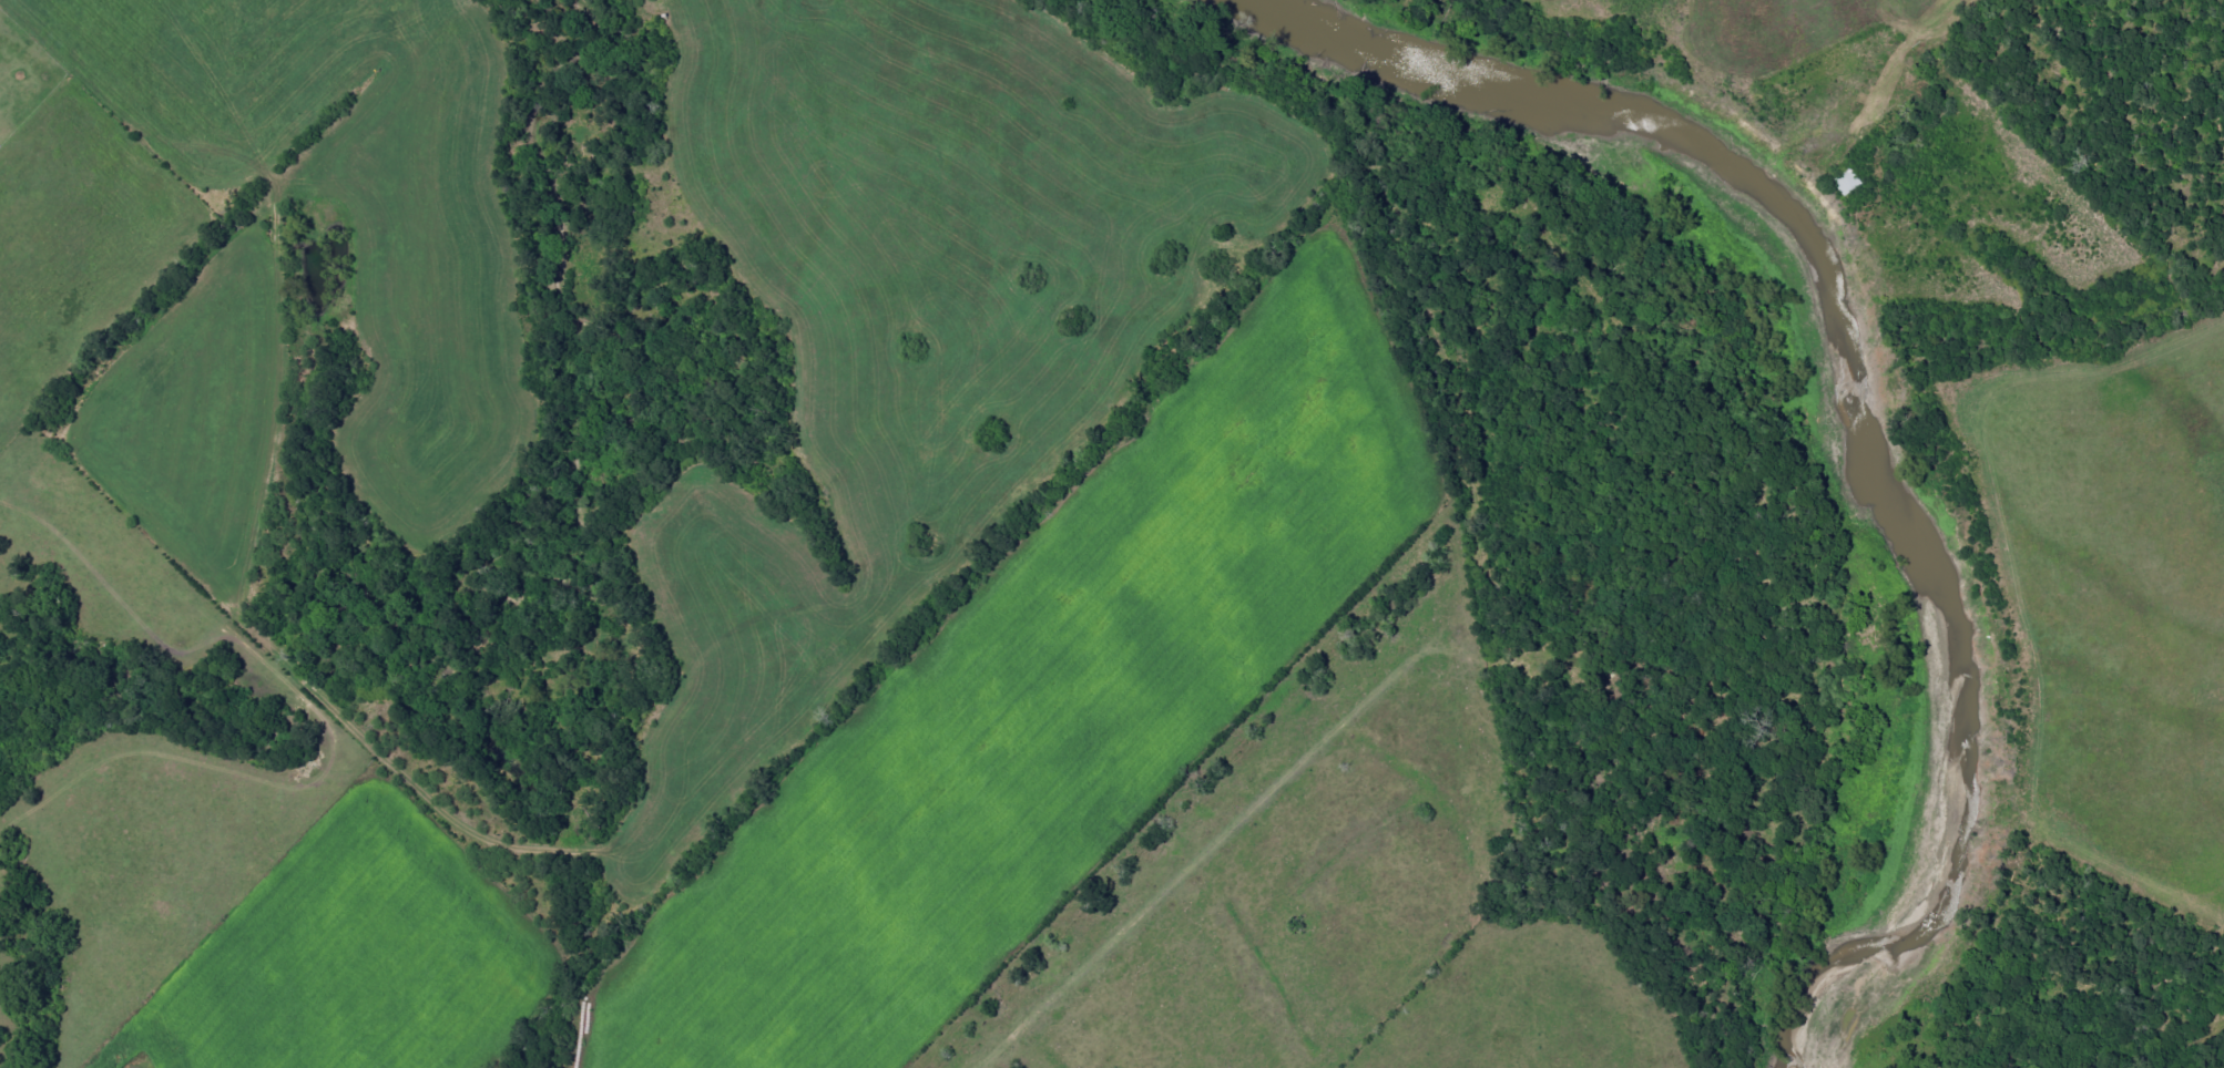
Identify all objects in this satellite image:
road: (1922, 79)

